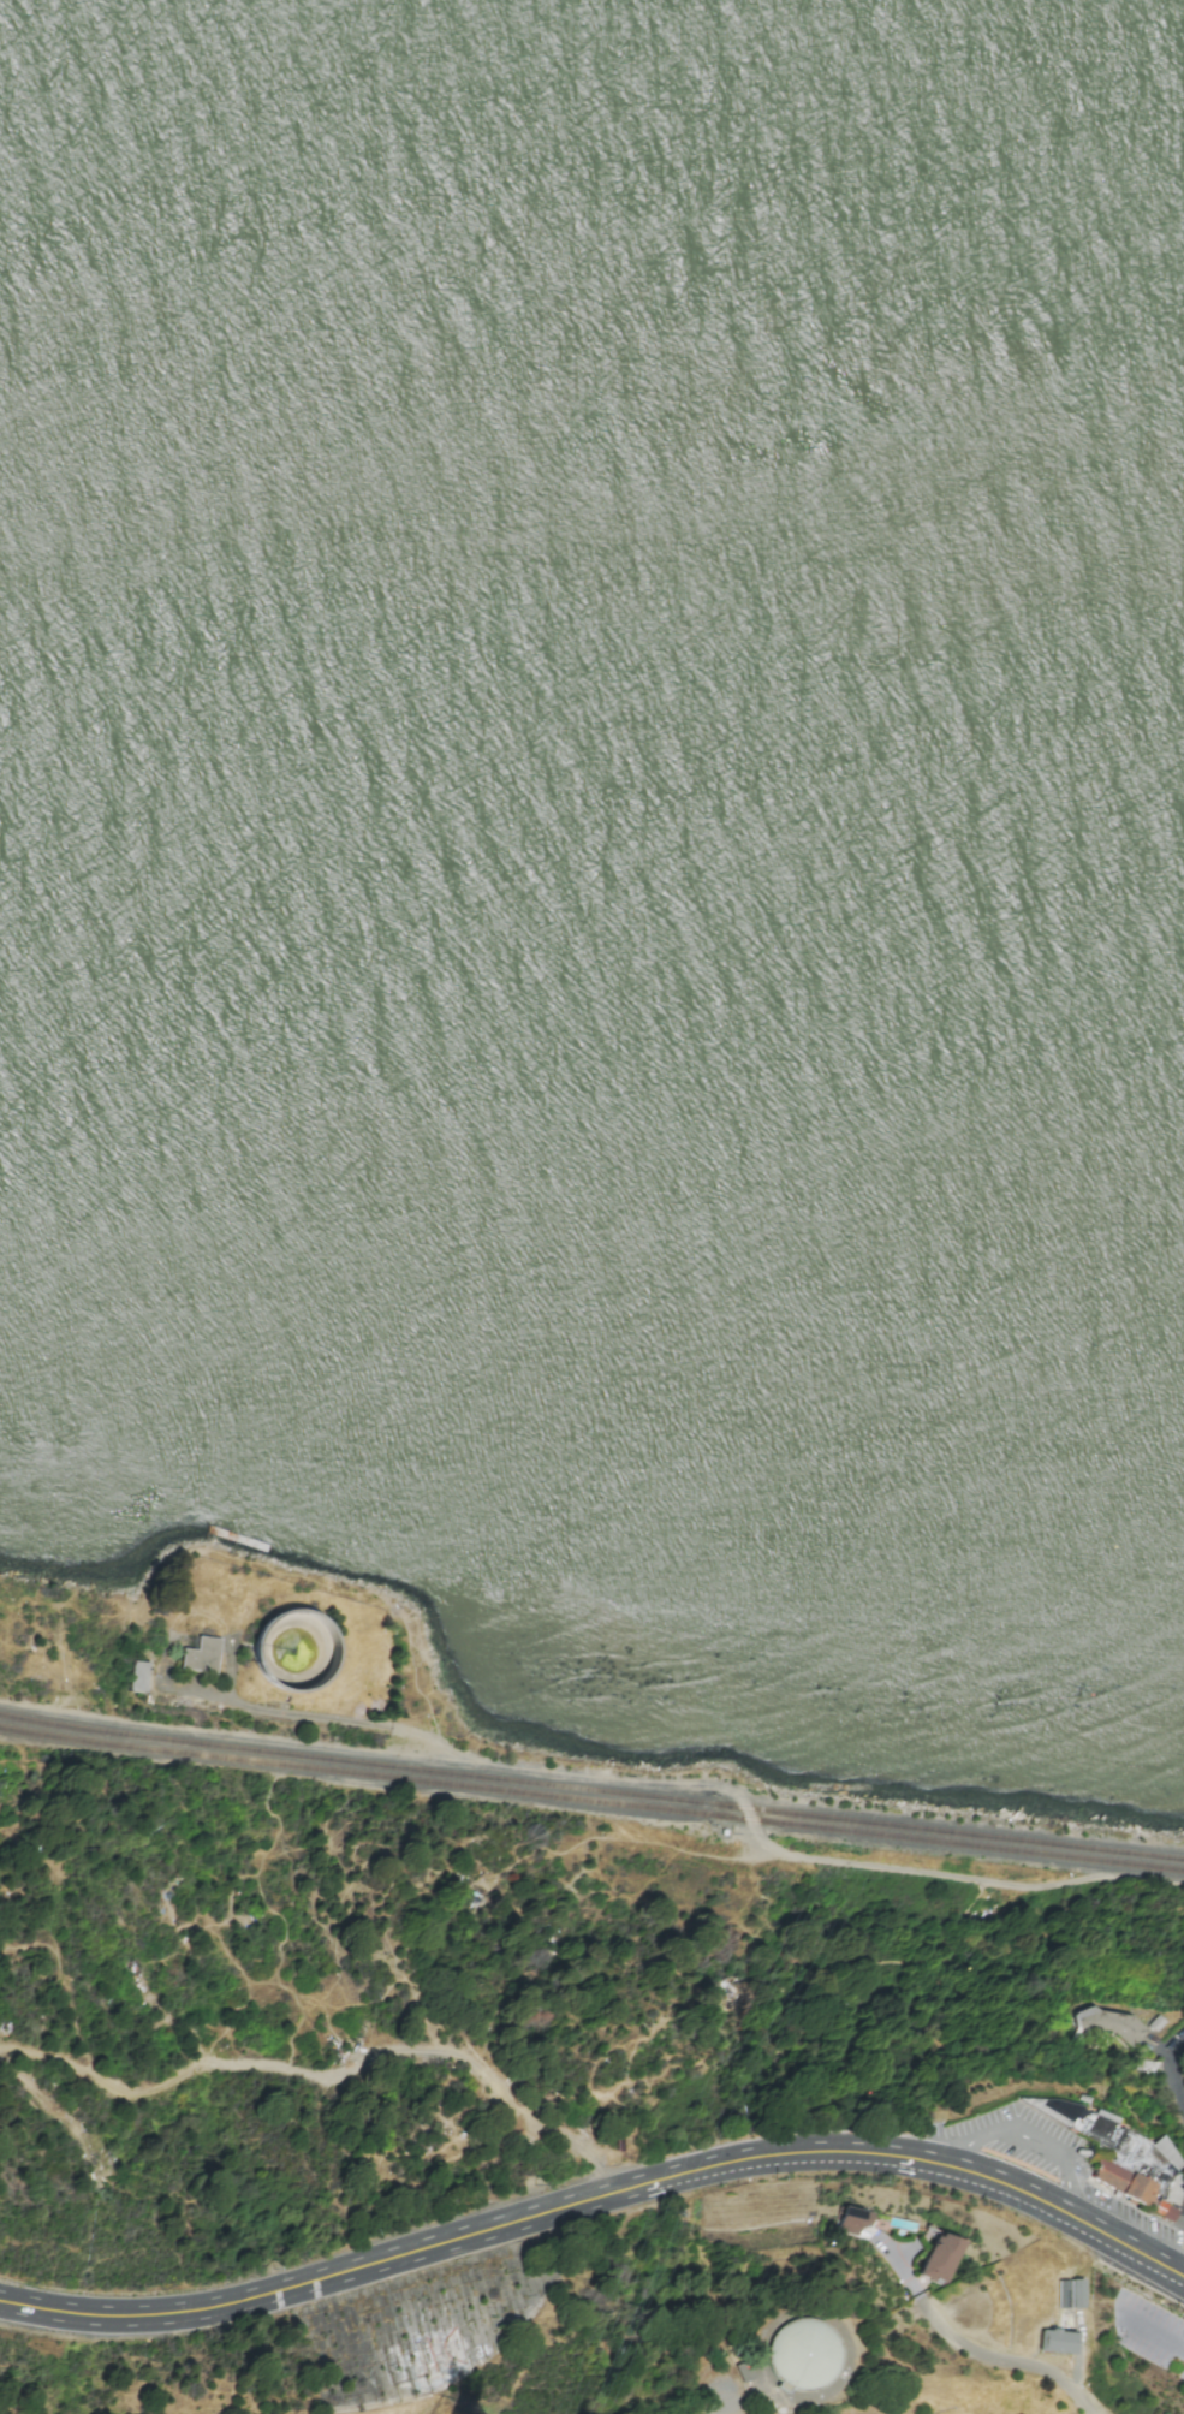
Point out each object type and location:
building: (292, 1652)
building: (202, 1653)
building: (137, 1677)
road: (662, 1785)
railway: (591, 1791)
railway: (591, 1801)
road: (1179, 2034)
road: (233, 2064)
road: (1170, 2069)
road: (1019, 2127)
building: (1113, 2152)
road: (599, 2196)
road: (1182, 2206)
building: (1165, 2212)
building: (851, 2219)
building: (936, 2258)
road: (1182, 2270)
building: (1076, 2294)
parking lot: (1149, 2332)
road: (1153, 2333)
building: (1055, 2342)
building: (804, 2354)
road: (986, 2355)

